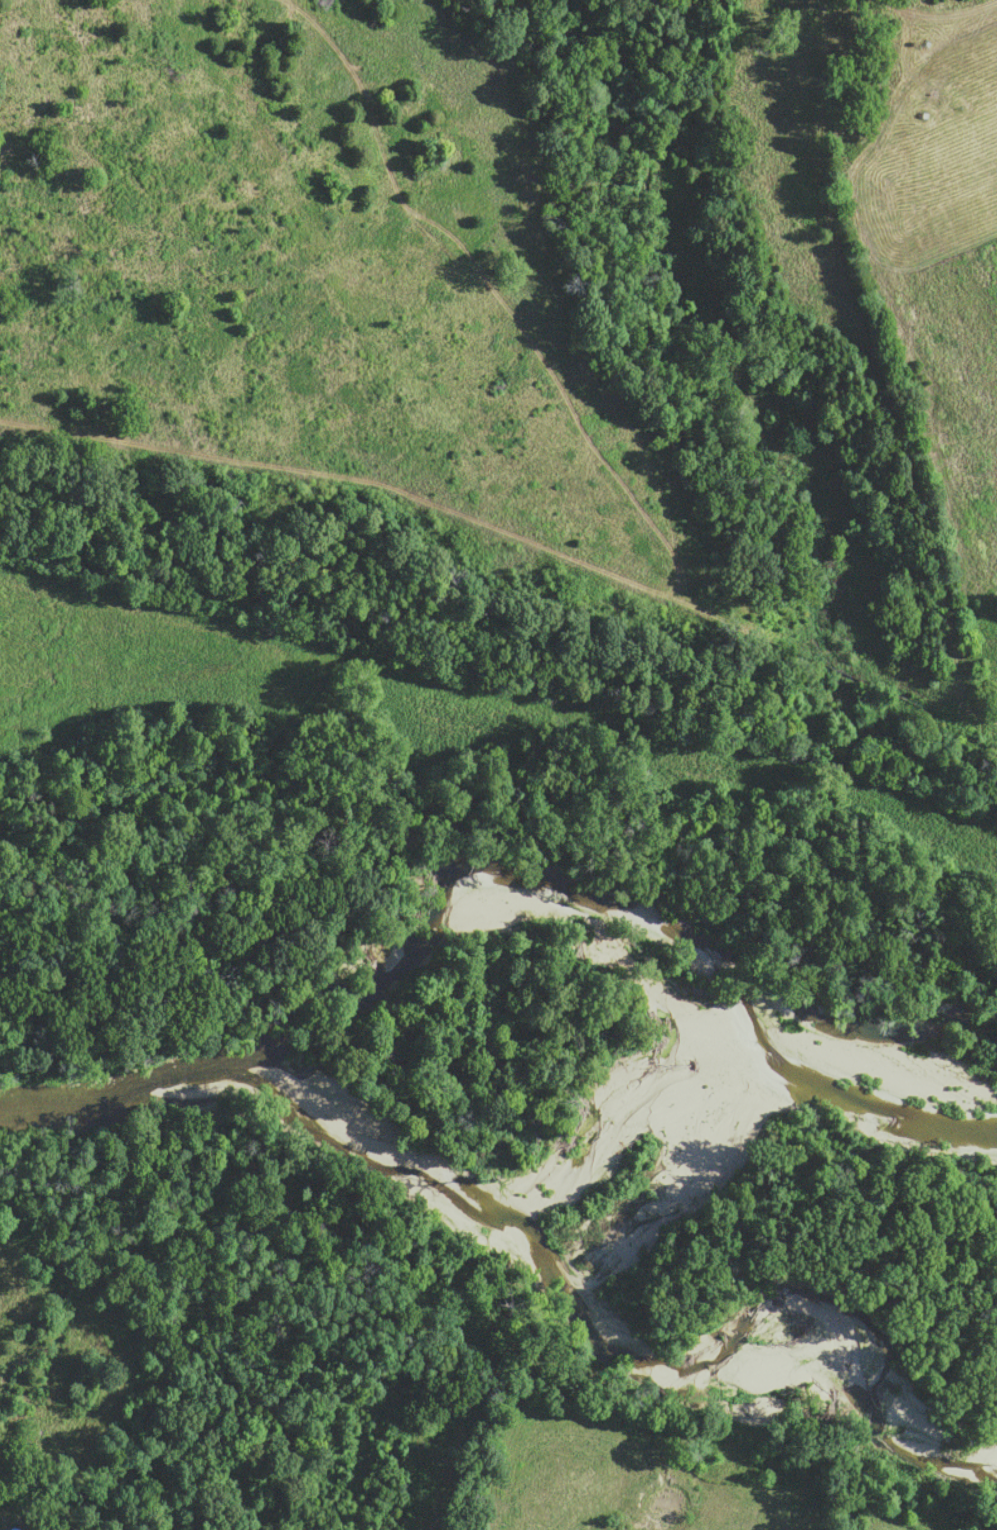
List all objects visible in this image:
river: (520, 1233)

